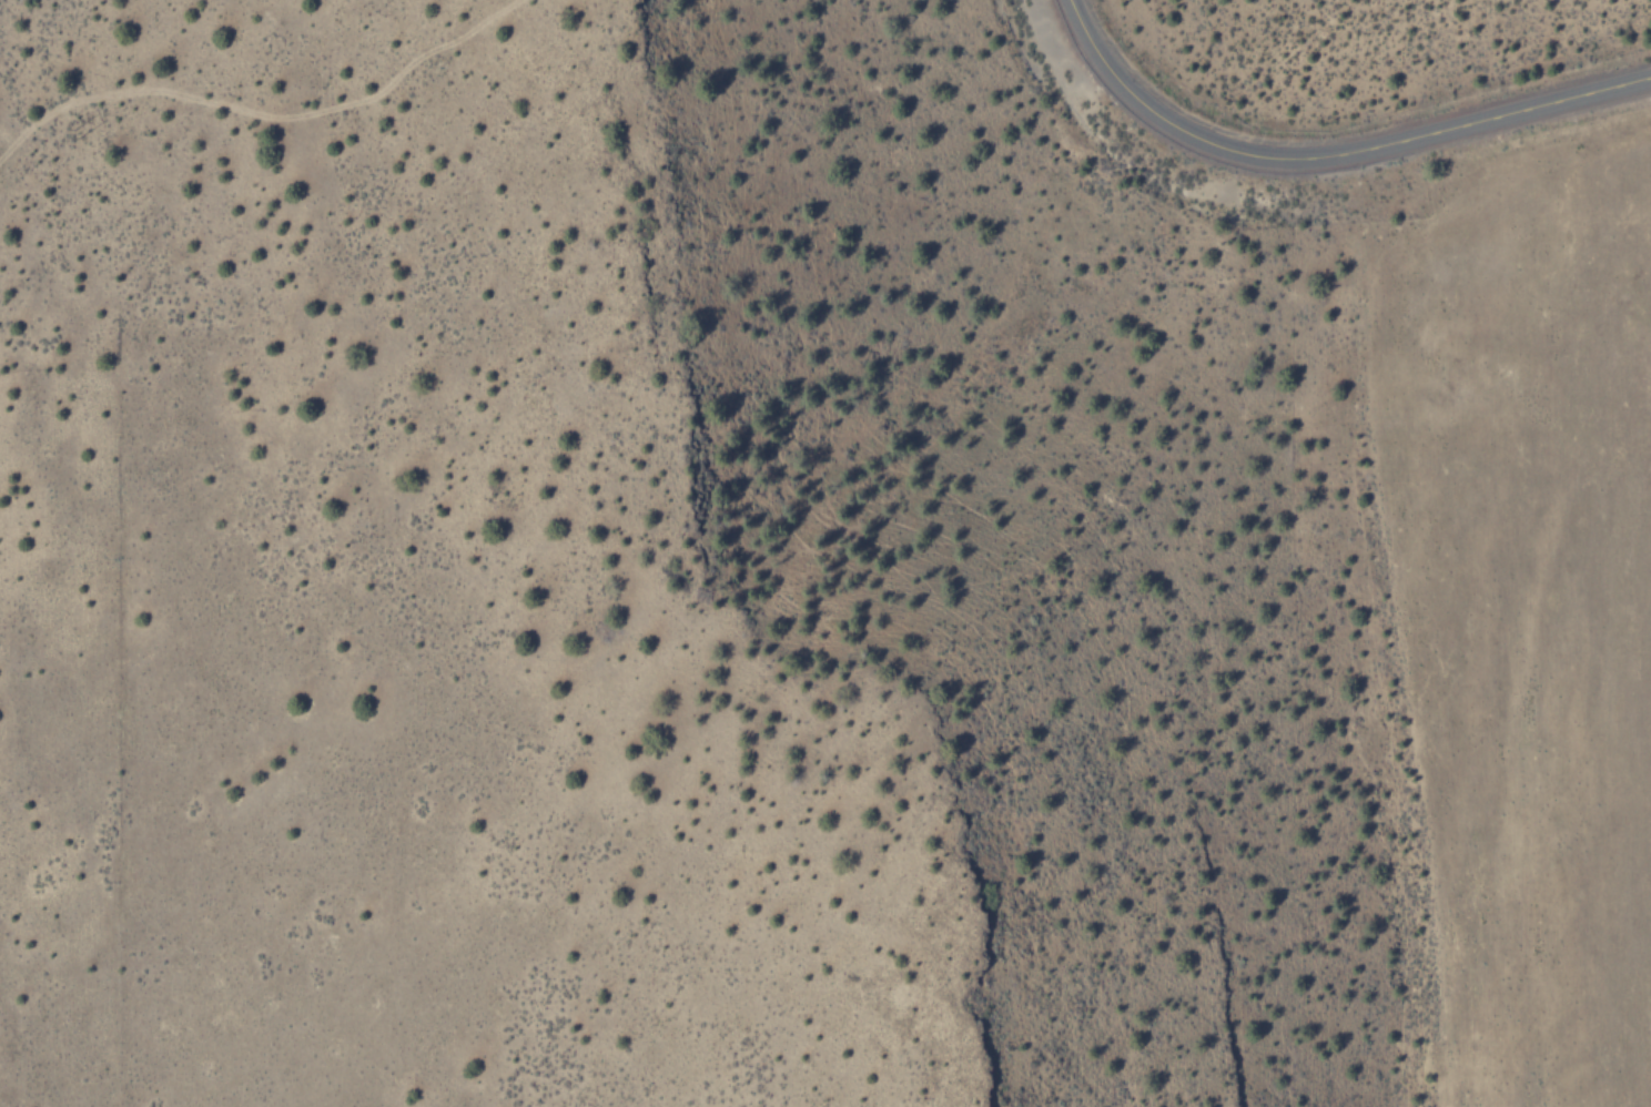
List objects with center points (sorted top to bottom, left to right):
road: (1329, 158)

